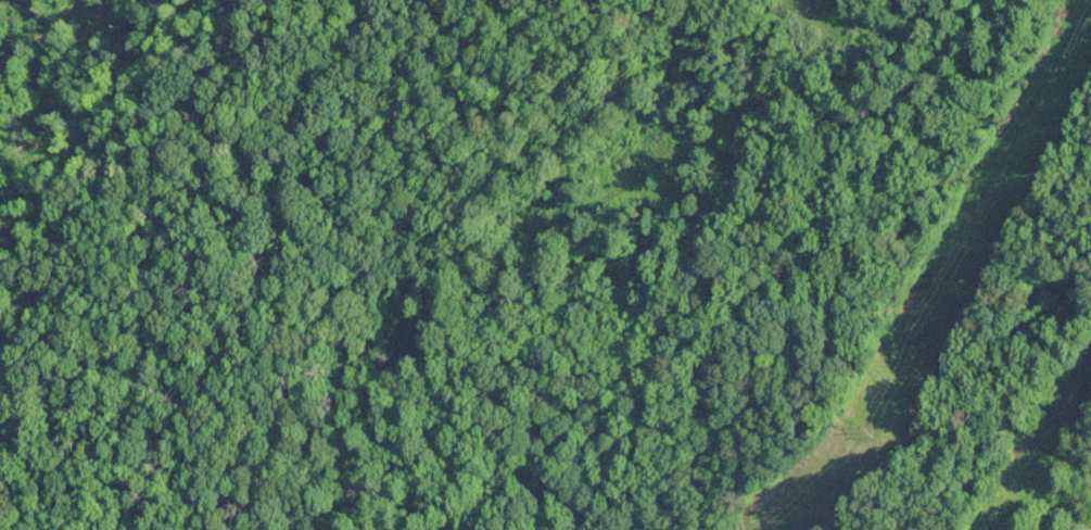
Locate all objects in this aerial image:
road: (937, 471)

